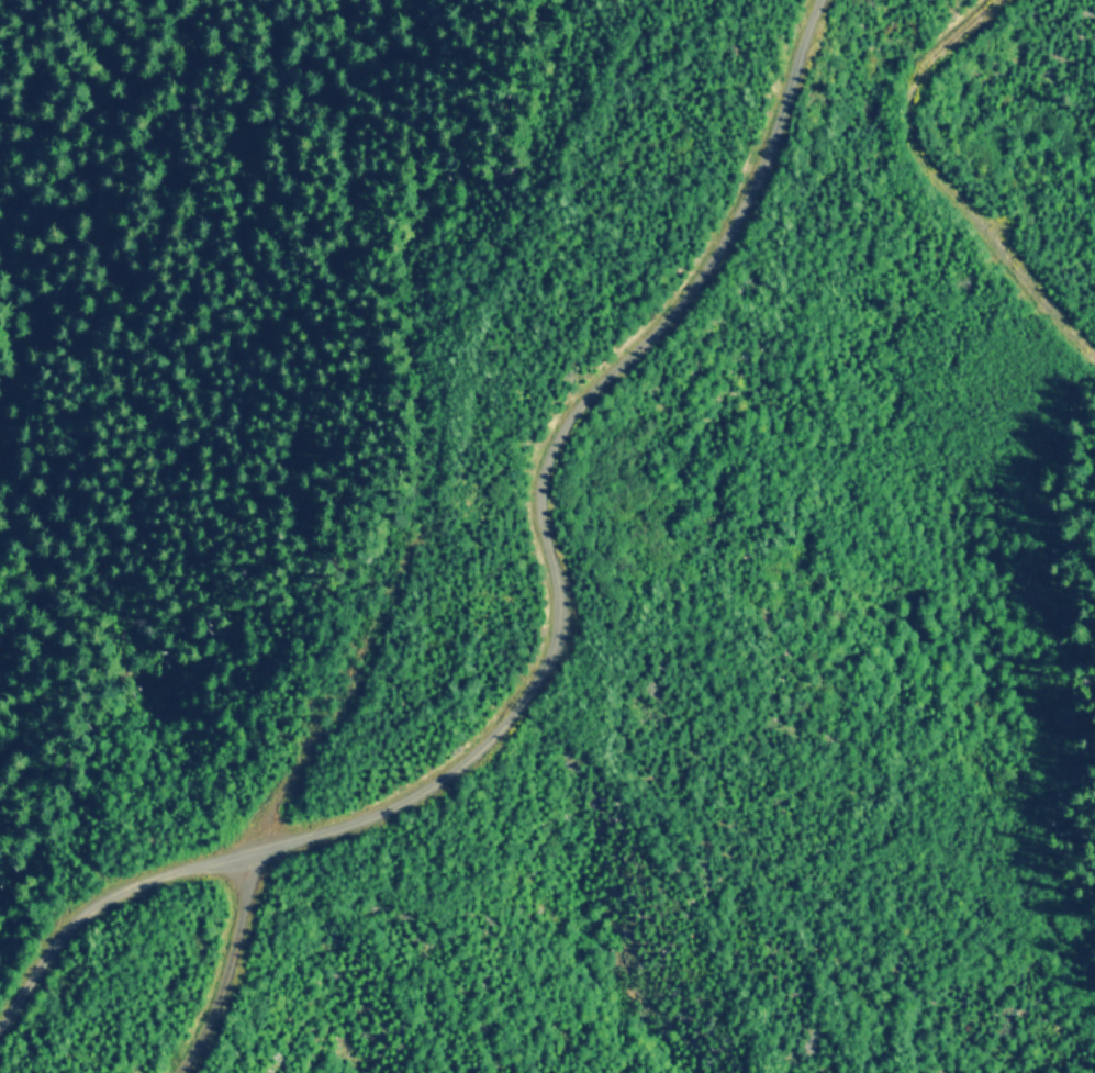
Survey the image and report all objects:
road: (580, 639)
road: (205, 958)

